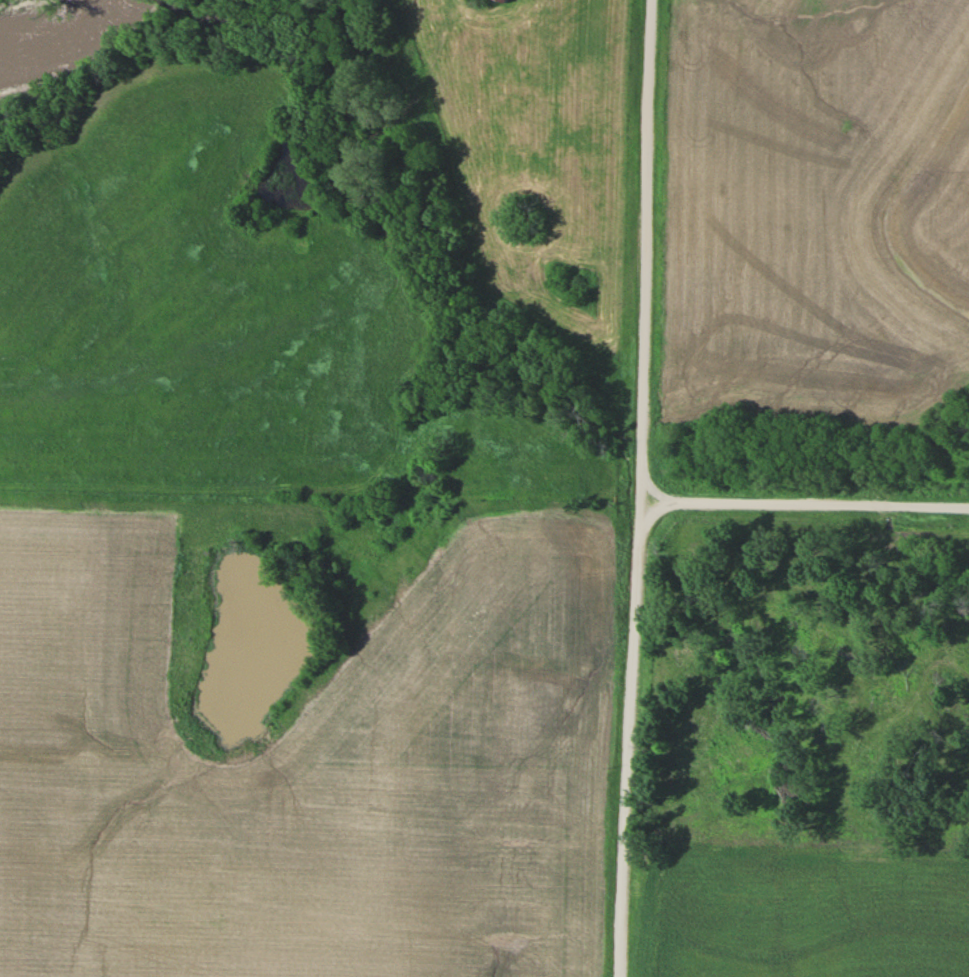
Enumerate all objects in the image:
building: (505, 0)
river: (60, 43)
road: (799, 480)
road: (628, 488)

